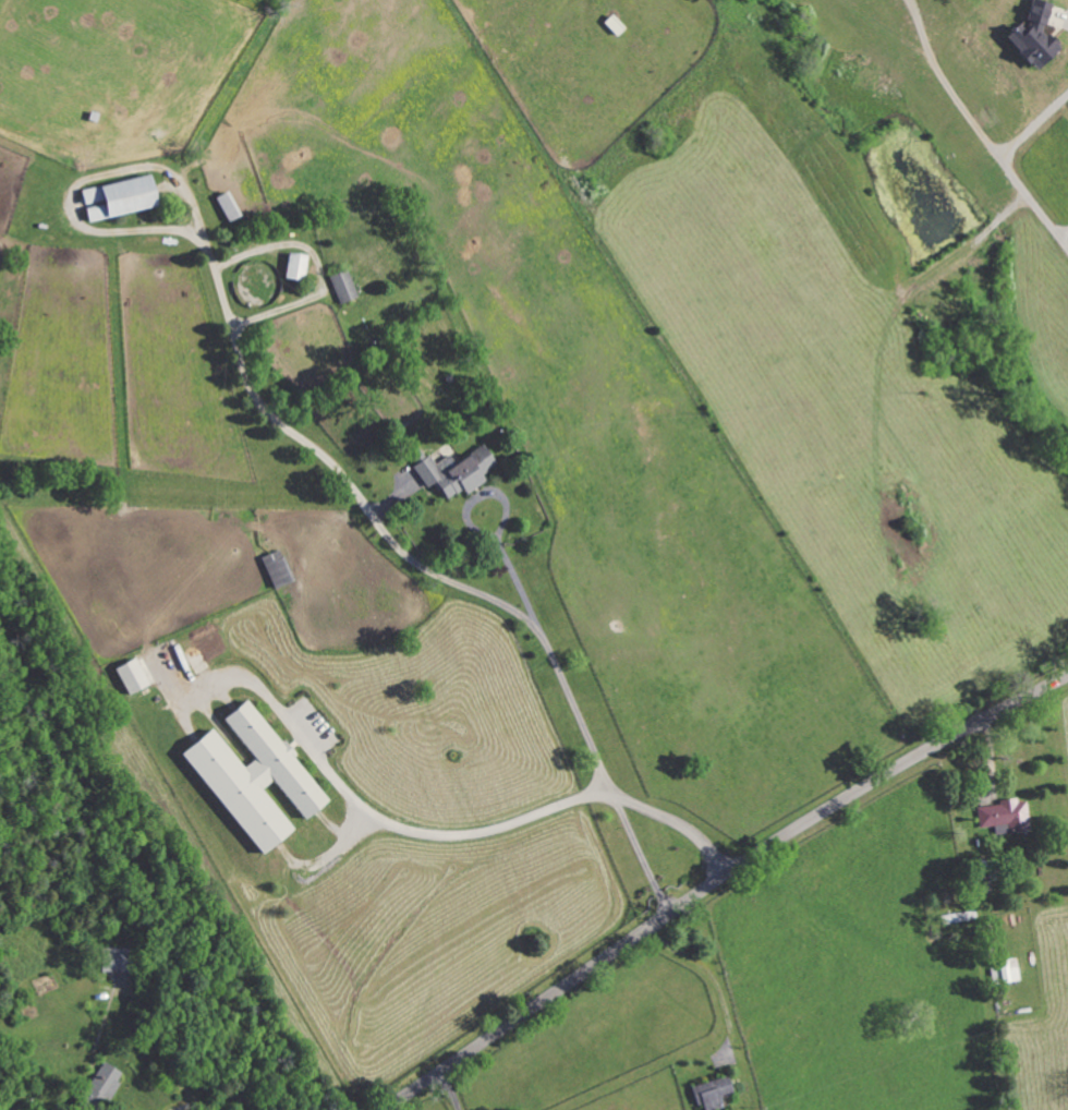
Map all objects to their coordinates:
road: (885, 26)
building: (1033, 36)
road: (1033, 125)
road: (979, 130)
building: (116, 197)
building: (293, 266)
building: (342, 286)
building: (453, 472)
road: (476, 530)
road: (435, 574)
building: (129, 676)
building: (251, 777)
building: (1005, 815)
road: (402, 831)
road: (718, 880)
building: (114, 960)
road: (709, 968)
building: (1004, 973)
road: (167, 1062)
building: (101, 1084)
road: (449, 1090)
building: (711, 1094)

